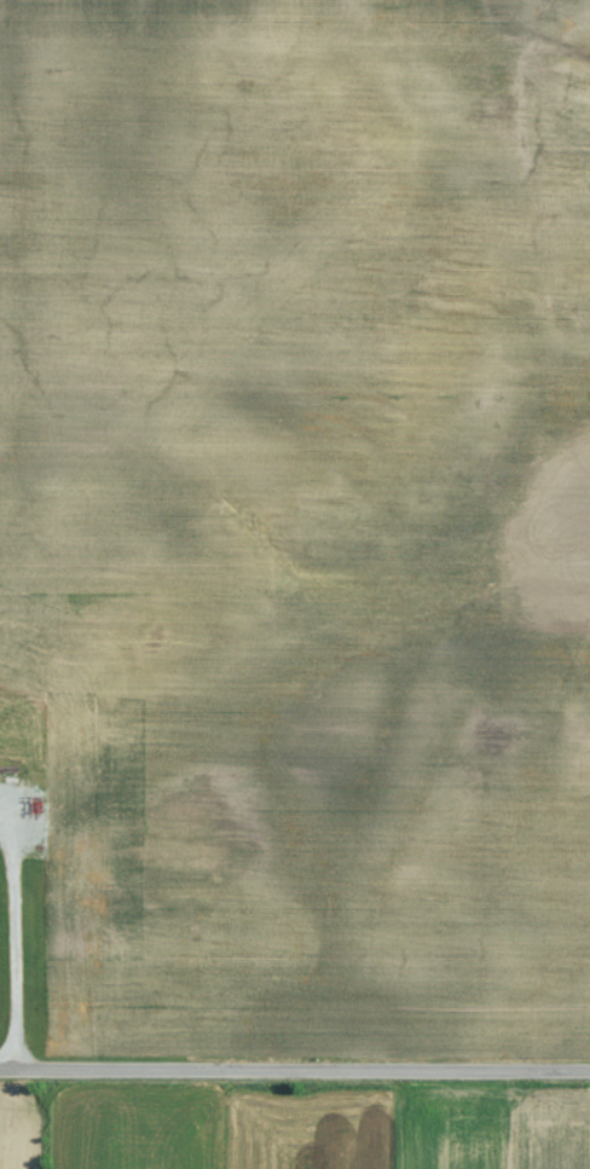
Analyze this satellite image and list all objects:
road: (294, 1071)

